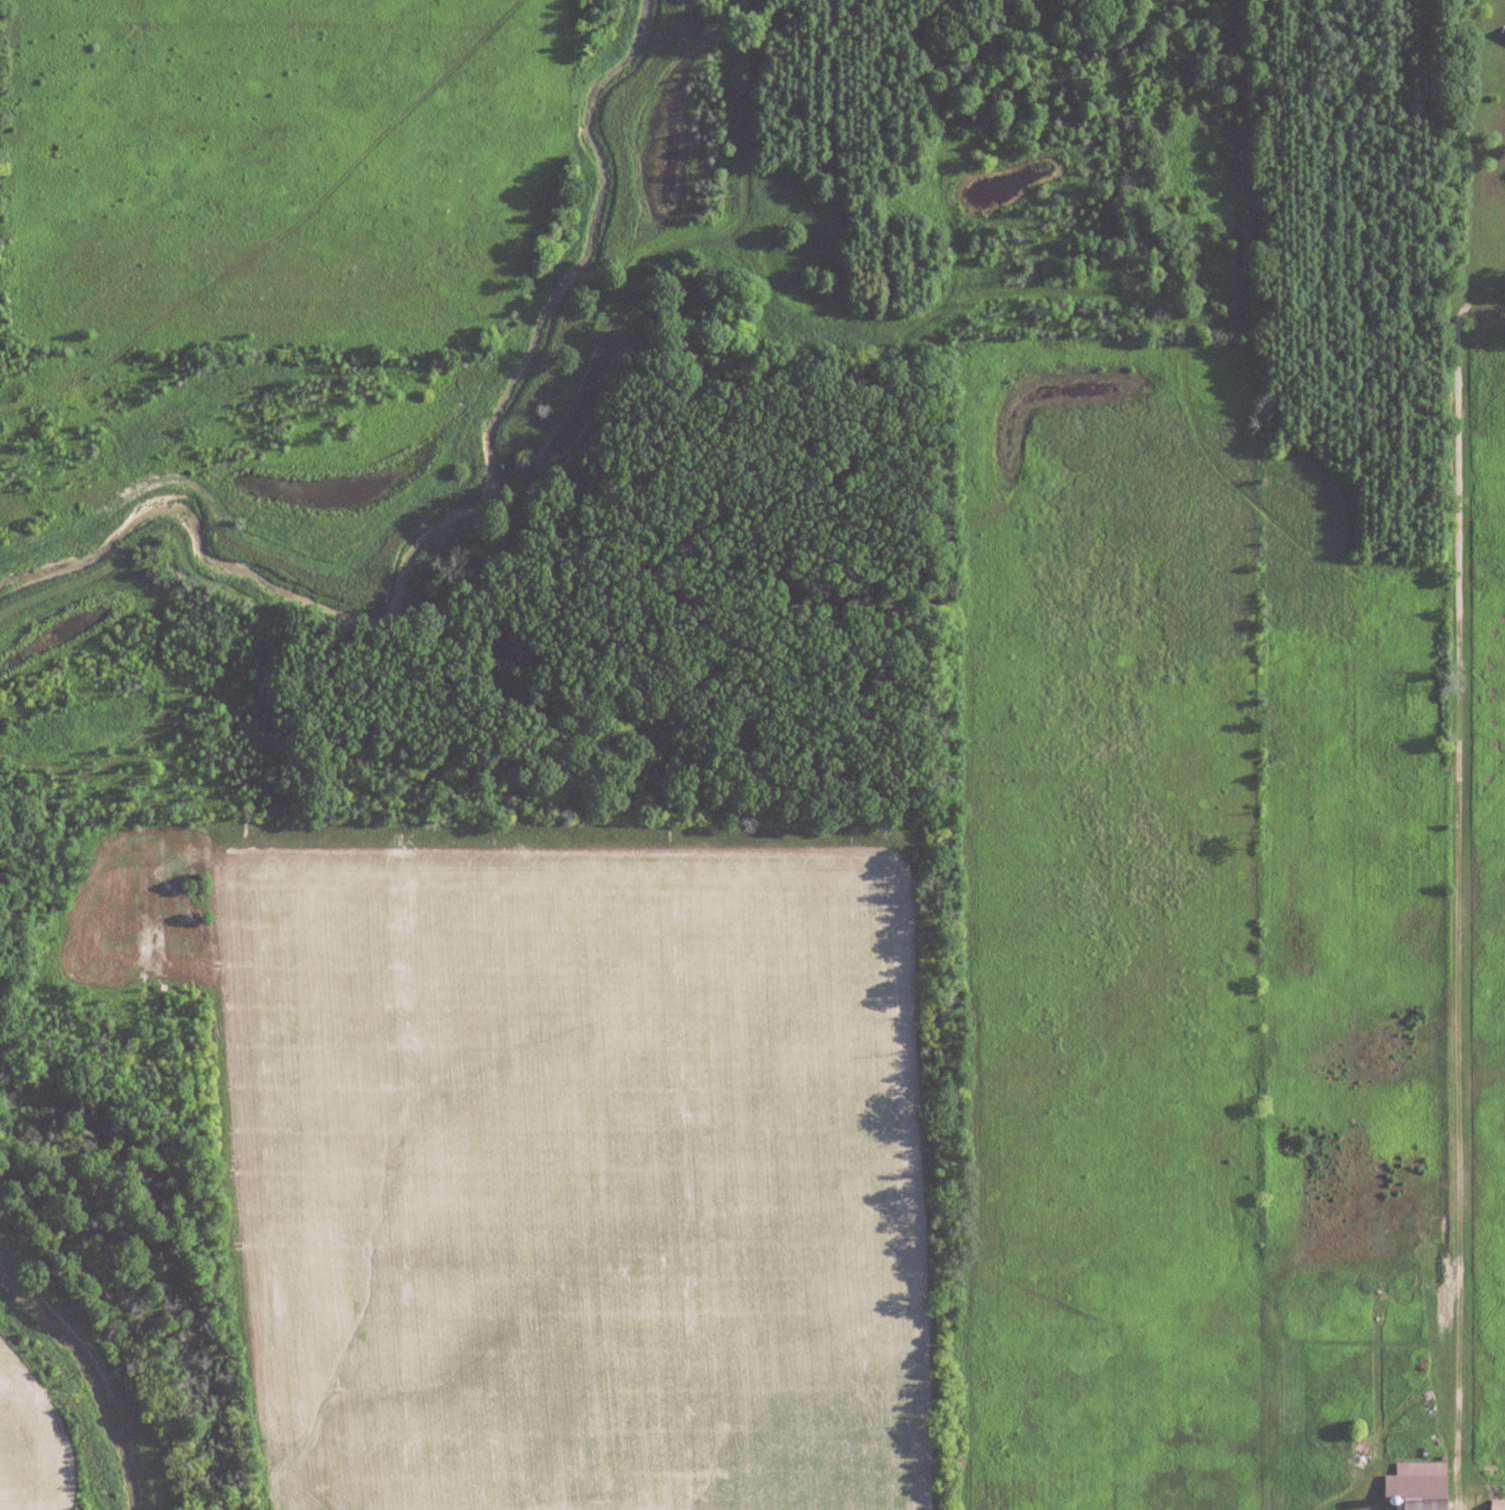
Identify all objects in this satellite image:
road: (1457, 1483)
building: (1419, 1486)
building: (1498, 1504)

